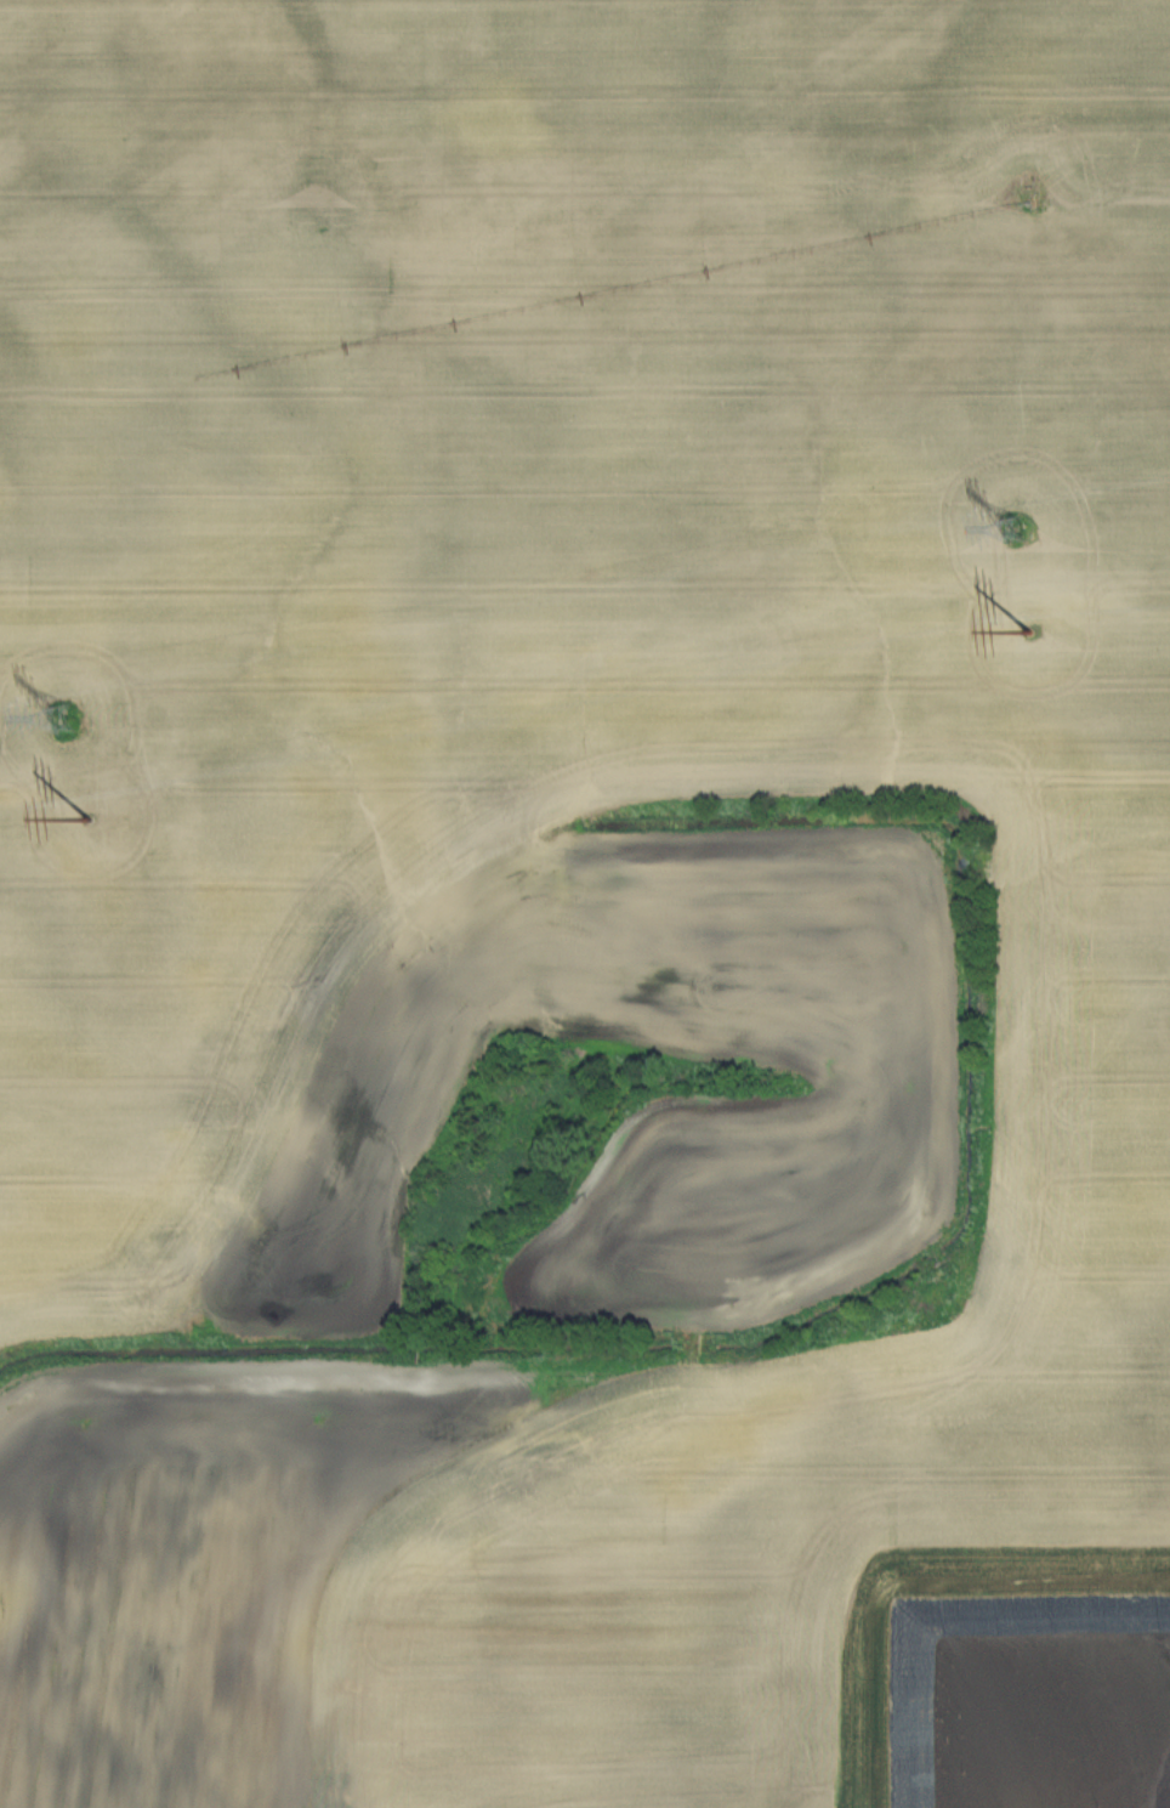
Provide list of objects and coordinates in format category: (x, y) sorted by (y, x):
power tower: (1013, 529)
power tower: (1024, 629)
power tower: (62, 716)
power tower: (81, 812)

